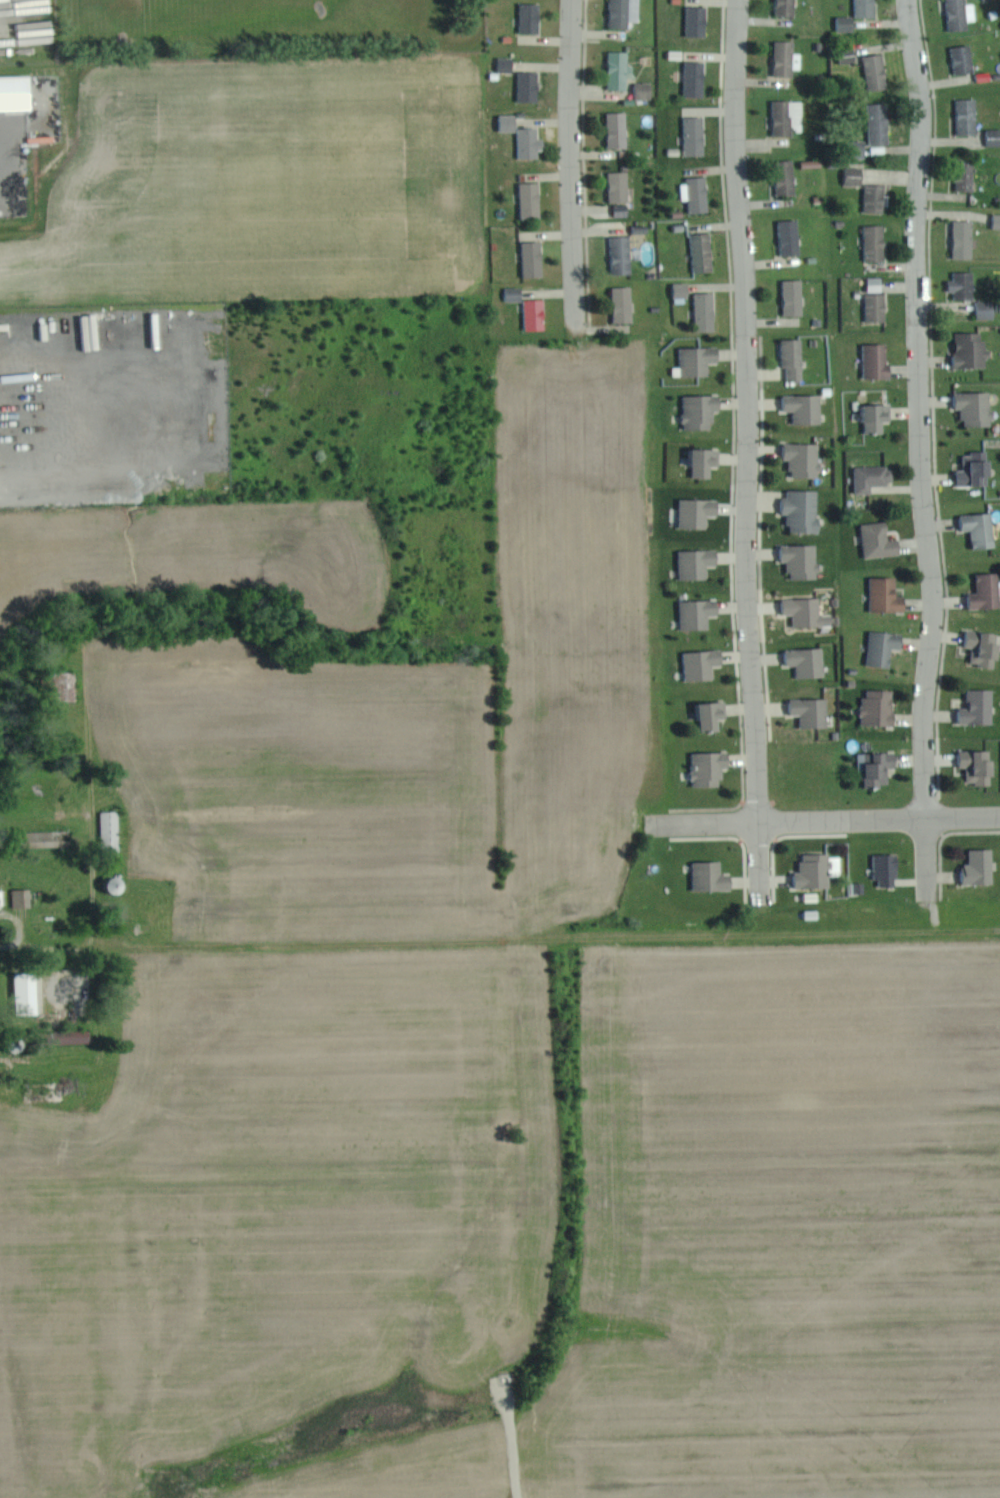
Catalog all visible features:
building: (788, 8)
building: (867, 8)
building: (622, 14)
building: (963, 14)
building: (532, 18)
building: (699, 21)
building: (847, 23)
building: (788, 58)
building: (965, 59)
building: (507, 64)
building: (620, 70)
building: (878, 72)
building: (697, 79)
building: (530, 86)
building: (644, 90)
building: (17, 93)
building: (789, 117)
building: (969, 117)
building: (510, 123)
building: (880, 124)
building: (619, 129)
building: (696, 136)
building: (994, 137)
building: (531, 143)
building: (861, 149)
road: (573, 163)
building: (856, 175)
building: (967, 177)
building: (788, 178)
building: (620, 186)
building: (698, 193)
building: (877, 198)
building: (532, 200)
building: (623, 209)
building: (997, 221)
building: (792, 237)
building: (965, 239)
building: (876, 243)
building: (704, 252)
building: (622, 254)
building: (534, 259)
building: (964, 285)
building: (683, 289)
building: (516, 293)
building: (794, 297)
building: (624, 303)
building: (878, 306)
building: (988, 309)
building: (707, 311)
building: (536, 313)
building: (972, 348)
building: (795, 358)
building: (700, 359)
building: (879, 360)
building: (806, 407)
building: (977, 407)
building: (702, 410)
road: (923, 411)
building: (877, 416)
road: (748, 450)
building: (805, 458)
building: (707, 460)
building: (976, 469)
building: (874, 477)
building: (804, 509)
building: (699, 511)
building: (982, 528)
building: (881, 540)
building: (803, 559)
building: (699, 562)
building: (987, 591)
building: (888, 594)
building: (806, 610)
building: (700, 612)
building: (885, 647)
building: (985, 647)
building: (809, 661)
building: (703, 663)
building: (68, 685)
building: (881, 706)
building: (980, 706)
building: (813, 711)
building: (714, 714)
building: (980, 765)
building: (710, 767)
building: (881, 767)
road: (826, 823)
building: (112, 830)
road: (928, 862)
building: (981, 867)
building: (820, 869)
building: (888, 869)
building: (712, 875)
building: (118, 883)
building: (23, 897)
building: (0, 901)
road: (14, 945)
building: (28, 992)
building: (70, 1036)

